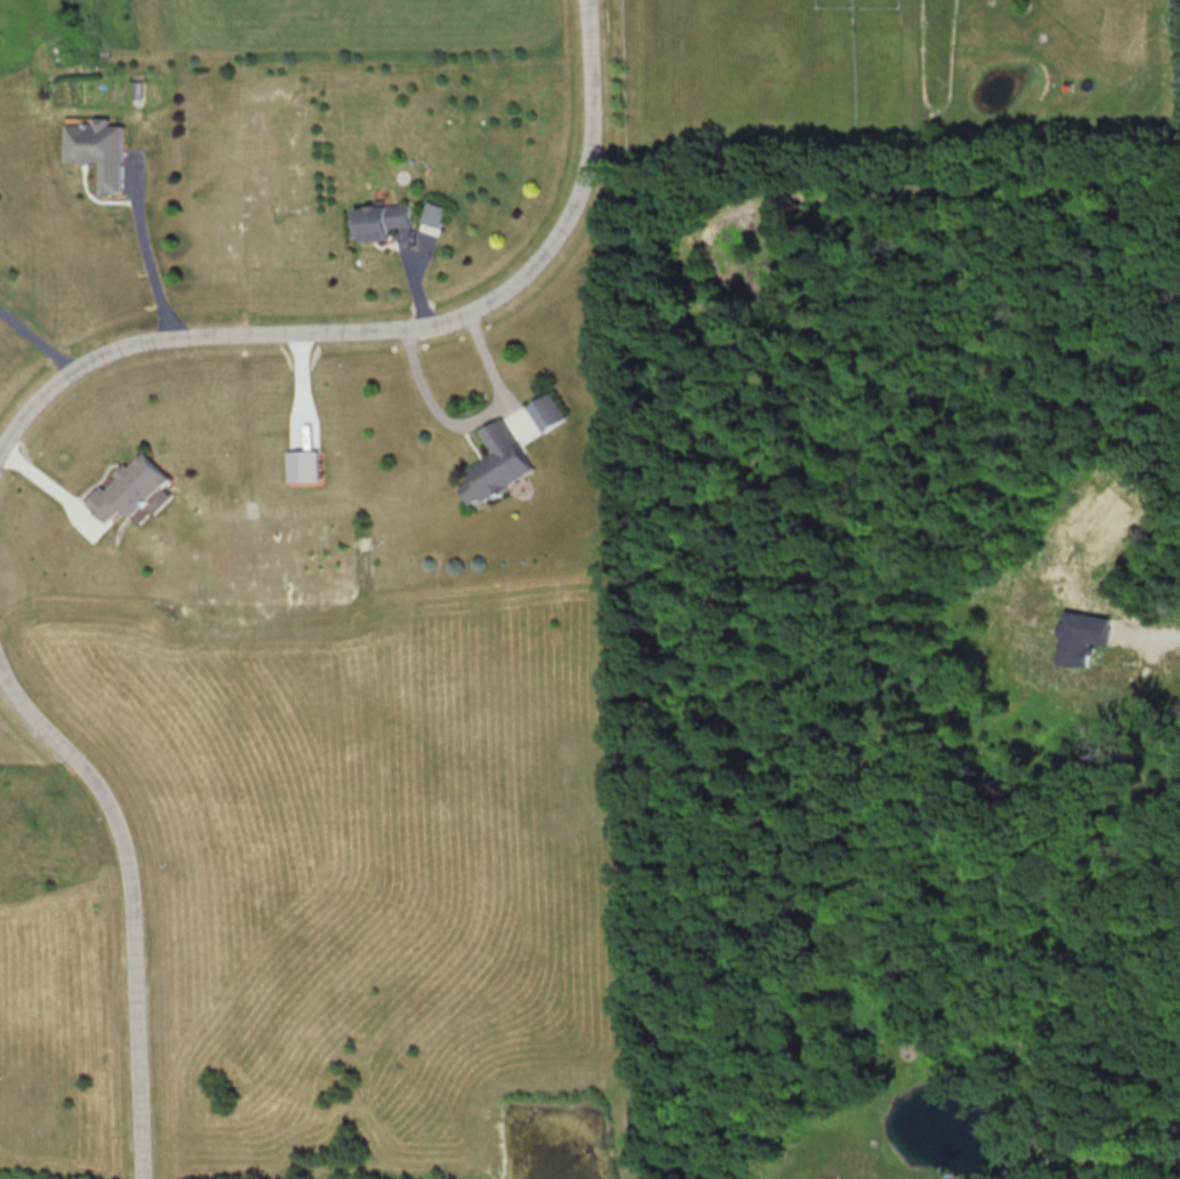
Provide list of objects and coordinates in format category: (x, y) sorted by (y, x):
building: (98, 151)
building: (432, 214)
building: (379, 220)
road: (148, 254)
road: (392, 328)
road: (34, 340)
building: (546, 412)
road: (464, 420)
building: (495, 464)
building: (127, 488)
road: (127, 903)
building: (1078, 1137)
road: (1087, 1157)

